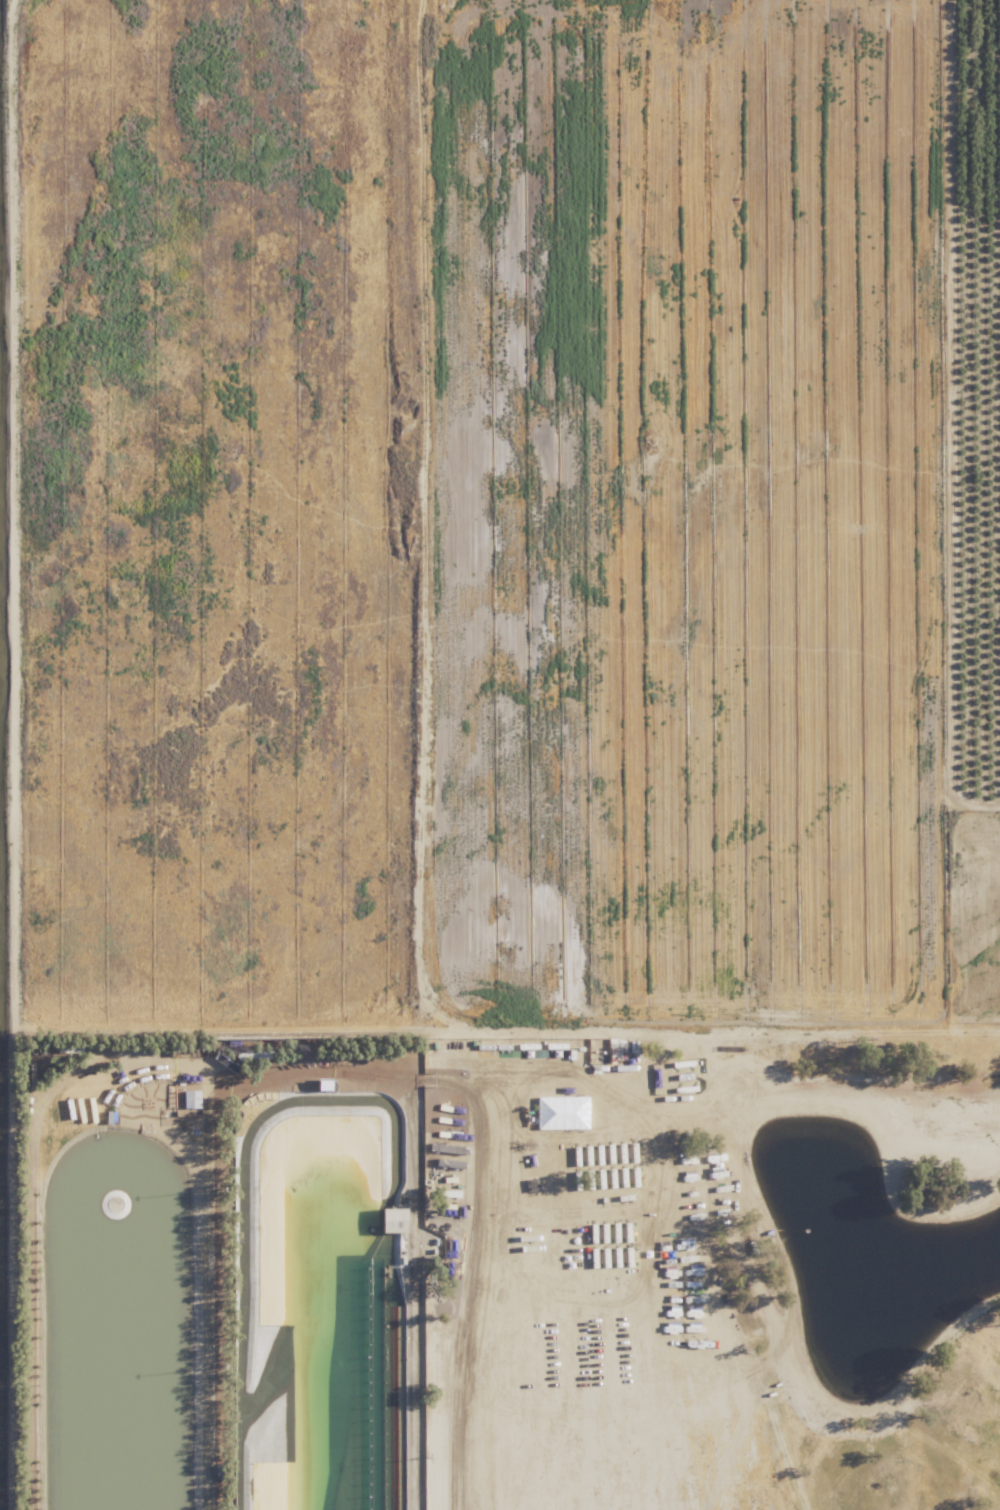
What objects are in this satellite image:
road: (787, 1034)

